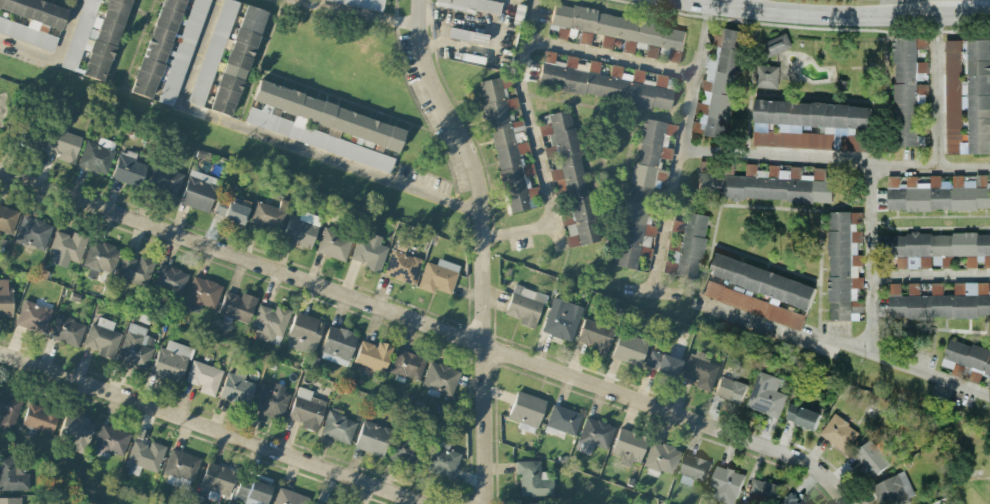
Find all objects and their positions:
building: (359, 3)
road: (740, 5)
building: (472, 6)
road: (361, 12)
road: (806, 16)
road: (966, 16)
road: (529, 19)
building: (32, 20)
building: (618, 28)
building: (559, 32)
building: (466, 36)
building: (98, 37)
building: (585, 38)
road: (701, 40)
building: (606, 43)
building: (921, 43)
building: (776, 44)
building: (157, 51)
building: (212, 52)
building: (650, 52)
building: (183, 54)
road: (610, 56)
building: (673, 56)
road: (56, 58)
building: (237, 60)
building: (766, 76)
building: (658, 81)
building: (600, 82)
building: (719, 85)
building: (907, 89)
road: (936, 91)
building: (967, 93)
building: (808, 124)
building: (322, 125)
road: (276, 140)
road: (535, 142)
building: (63, 145)
building: (508, 146)
building: (97, 155)
road: (835, 161)
building: (128, 169)
building: (570, 176)
building: (165, 179)
road: (675, 183)
building: (765, 184)
building: (644, 188)
building: (198, 191)
building: (937, 193)
building: (230, 211)
building: (268, 215)
building: (7, 219)
building: (677, 227)
building: (301, 229)
road: (518, 231)
building: (33, 232)
building: (333, 244)
building: (691, 245)
road: (482, 246)
building: (66, 248)
building: (939, 248)
building: (369, 253)
road: (870, 257)
building: (100, 258)
building: (844, 264)
building: (401, 267)
building: (135, 270)
road: (930, 274)
building: (437, 276)
building: (169, 279)
building: (762, 281)
building: (201, 294)
road: (666, 294)
building: (5, 298)
building: (940, 301)
building: (753, 305)
building: (237, 306)
building: (524, 306)
building: (32, 316)
building: (561, 319)
building: (269, 323)
road: (427, 326)
building: (66, 330)
building: (303, 333)
building: (594, 335)
building: (102, 338)
road: (847, 344)
building: (337, 345)
building: (135, 347)
building: (628, 349)
building: (372, 355)
building: (966, 360)
building: (171, 361)
building: (662, 364)
building: (407, 365)
building: (699, 370)
building: (204, 377)
building: (439, 378)
building: (236, 389)
building: (729, 390)
building: (765, 395)
building: (271, 401)
building: (306, 409)
building: (8, 410)
building: (526, 411)
building: (801, 416)
building: (39, 419)
building: (562, 421)
road: (210, 427)
building: (337, 428)
building: (76, 432)
building: (838, 432)
building: (595, 433)
building: (372, 438)
building: (110, 441)
building: (628, 447)
building: (144, 457)
building: (425, 457)
building: (661, 458)
building: (869, 458)
building: (180, 469)
building: (693, 469)
building: (12, 474)
building: (532, 479)
building: (217, 480)
building: (725, 484)
building: (893, 489)
building: (766, 491)
building: (251, 492)
building: (288, 497)
building: (10, 500)
building: (793, 501)
building: (747, 502)
building: (316, 503)
building: (525, 503)

